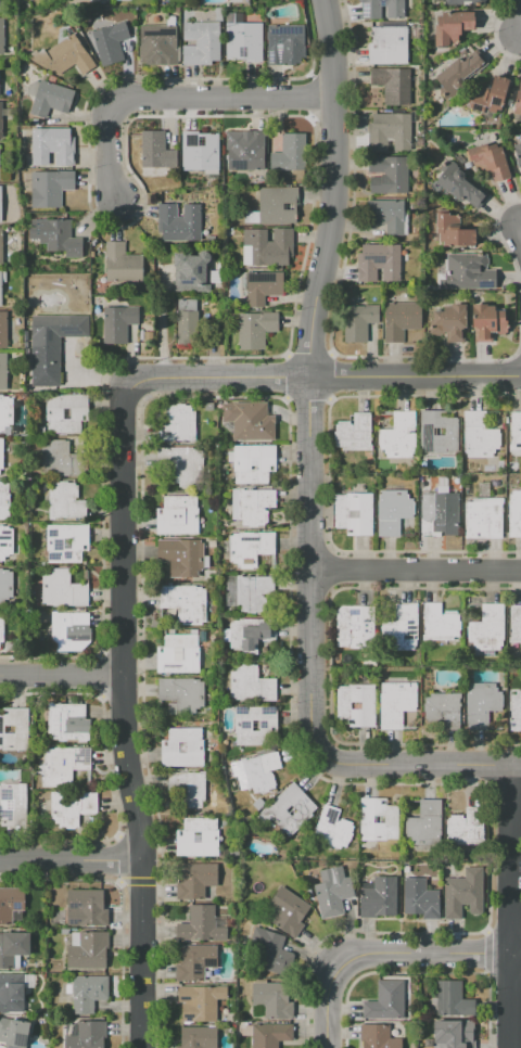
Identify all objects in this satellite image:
building: (101, 1)
building: (459, 1)
building: (380, 9)
building: (450, 26)
building: (1, 36)
building: (243, 41)
building: (110, 42)
building: (158, 42)
building: (201, 42)
building: (285, 43)
building: (387, 44)
building: (68, 55)
building: (460, 73)
building: (393, 85)
building: (487, 95)
building: (49, 98)
road: (174, 99)
building: (517, 103)
building: (0, 122)
building: (389, 131)
building: (201, 139)
building: (201, 143)
building: (52, 146)
building: (156, 150)
building: (200, 151)
building: (244, 151)
building: (290, 153)
building: (518, 154)
building: (488, 161)
building: (387, 175)
building: (460, 186)
building: (49, 188)
building: (0, 204)
building: (278, 205)
building: (387, 216)
building: (178, 222)
building: (453, 231)
building: (55, 235)
building: (0, 246)
building: (266, 247)
building: (378, 263)
building: (122, 264)
building: (191, 272)
building: (467, 272)
building: (216, 277)
building: (263, 286)
building: (0, 289)
building: (214, 290)
building: (401, 319)
building: (186, 320)
building: (358, 321)
building: (486, 321)
building: (448, 322)
building: (117, 323)
road: (163, 325)
building: (255, 329)
building: (2, 331)
building: (52, 344)
building: (2, 371)
road: (327, 376)
road: (309, 379)
building: (208, 406)
building: (65, 412)
building: (5, 414)
building: (250, 420)
building: (178, 424)
building: (437, 431)
building: (514, 431)
building: (354, 433)
building: (479, 435)
building: (397, 437)
building: (1, 453)
building: (59, 458)
building: (252, 462)
building: (179, 467)
building: (3, 501)
building: (65, 501)
building: (252, 506)
building: (392, 510)
building: (441, 510)
building: (354, 513)
building: (513, 514)
building: (178, 515)
building: (483, 519)
building: (5, 541)
building: (66, 542)
building: (249, 549)
building: (179, 559)
road: (416, 568)
building: (5, 588)
building: (62, 589)
building: (252, 593)
building: (185, 602)
building: (440, 624)
building: (354, 625)
building: (1, 628)
building: (516, 628)
building: (401, 629)
building: (487, 630)
building: (69, 631)
building: (251, 635)
building: (178, 653)
road: (63, 676)
building: (251, 685)
building: (180, 693)
building: (395, 703)
building: (481, 704)
building: (343, 705)
building: (516, 705)
building: (443, 710)
road: (128, 716)
building: (68, 723)
building: (243, 726)
building: (14, 729)
building: (181, 746)
building: (63, 765)
road: (420, 766)
building: (259, 771)
building: (188, 788)
building: (13, 805)
building: (71, 808)
building: (285, 811)
building: (391, 819)
building: (423, 823)
building: (467, 827)
building: (332, 829)
building: (185, 838)
road: (72, 865)
building: (195, 880)
building: (332, 892)
building: (462, 894)
building: (378, 897)
building: (420, 898)
building: (10, 904)
road: (513, 906)
building: (86, 907)
building: (288, 911)
building: (202, 924)
building: (12, 948)
building: (87, 949)
building: (267, 951)
road: (387, 954)
building: (194, 961)
building: (12, 993)
building: (88, 993)
building: (385, 1000)
building: (452, 1000)
building: (271, 1001)
building: (200, 1002)
building: (14, 1033)
building: (85, 1034)
building: (266, 1034)
building: (453, 1034)
building: (198, 1037)
building: (377, 1037)

